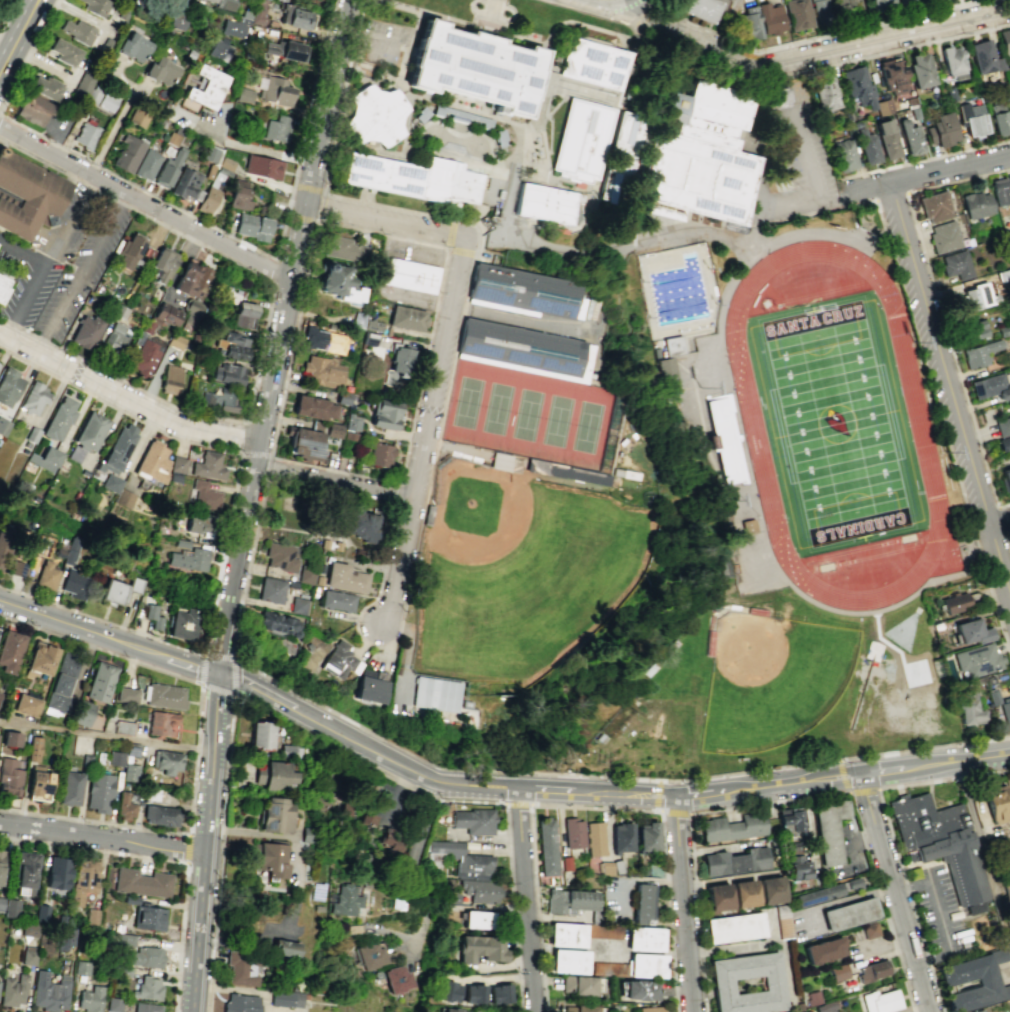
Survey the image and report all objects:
building: (170, 0)
building: (283, 0)
road: (32, 1)
road: (596, 1)
building: (905, 1)
road: (614, 2)
building: (225, 3)
building: (842, 4)
building: (880, 4)
building: (95, 6)
building: (695, 8)
building: (246, 9)
building: (257, 11)
building: (819, 11)
road: (78, 12)
building: (123, 12)
road: (7, 14)
building: (797, 14)
building: (293, 15)
building: (172, 16)
road: (446, 16)
road: (644, 16)
building: (771, 17)
road: (728, 24)
building: (750, 25)
building: (233, 27)
building: (77, 30)
road: (923, 31)
road: (19, 35)
road: (369, 39)
road: (811, 40)
road: (666, 41)
building: (1004, 41)
building: (132, 43)
parking lot: (385, 44)
road: (409, 45)
building: (285, 47)
building: (219, 48)
road: (402, 48)
road: (896, 49)
building: (62, 50)
road: (724, 52)
road: (28, 54)
building: (983, 57)
road: (41, 61)
building: (953, 62)
building: (592, 63)
building: (475, 67)
building: (159, 68)
building: (921, 70)
building: (1008, 73)
building: (894, 76)
building: (84, 82)
building: (43, 85)
building: (858, 86)
building: (275, 88)
building: (204, 89)
building: (827, 91)
building: (245, 93)
building: (92, 94)
building: (948, 94)
building: (780, 98)
building: (107, 100)
building: (31, 107)
building: (136, 113)
building: (375, 115)
building: (971, 118)
building: (999, 122)
building: (277, 127)
building: (940, 130)
road: (109, 131)
building: (86, 134)
building: (171, 137)
building: (910, 137)
road: (46, 138)
building: (886, 138)
road: (254, 148)
building: (597, 148)
building: (869, 149)
building: (127, 151)
building: (210, 153)
building: (845, 155)
building: (704, 156)
road: (807, 157)
parking lot: (808, 157)
road: (927, 161)
building: (145, 162)
building: (226, 162)
building: (263, 166)
building: (168, 167)
building: (414, 178)
building: (183, 181)
road: (915, 181)
road: (308, 189)
building: (1000, 191)
building: (27, 196)
building: (237, 196)
building: (207, 199)
road: (144, 203)
building: (977, 204)
building: (550, 205)
building: (935, 206)
road: (321, 207)
road: (773, 212)
road: (300, 217)
road: (384, 220)
road: (71, 223)
building: (252, 226)
road: (282, 230)
road: (695, 230)
road: (489, 233)
building: (944, 236)
building: (1009, 236)
road: (500, 237)
road: (447, 246)
road: (603, 247)
building: (345, 248)
building: (129, 250)
road: (24, 254)
road: (744, 260)
parking lot: (65, 262)
building: (161, 262)
building: (955, 264)
road: (274, 270)
road: (82, 273)
building: (410, 274)
building: (192, 279)
building: (339, 279)
building: (4, 288)
building: (524, 291)
building: (973, 298)
road: (27, 302)
building: (192, 306)
road: (942, 308)
building: (240, 309)
building: (166, 313)
building: (407, 316)
building: (359, 319)
building: (374, 323)
building: (85, 330)
building: (973, 330)
building: (1003, 330)
road: (264, 333)
road: (279, 335)
building: (115, 338)
building: (370, 338)
building: (326, 339)
building: (174, 341)
building: (231, 344)
building: (674, 345)
building: (524, 349)
building: (980, 353)
building: (144, 358)
building: (401, 358)
building: (1008, 359)
road: (438, 368)
building: (324, 370)
building: (670, 371)
building: (227, 372)
road: (927, 376)
building: (170, 379)
parking lot: (936, 384)
building: (9, 387)
building: (990, 387)
road: (950, 389)
building: (344, 397)
building: (34, 398)
road: (125, 399)
building: (228, 399)
building: (313, 406)
building: (386, 413)
park: (536, 415)
building: (59, 419)
building: (355, 422)
park: (835, 424)
building: (3, 425)
building: (1003, 426)
building: (335, 430)
building: (32, 434)
building: (351, 435)
building: (87, 436)
road: (243, 437)
building: (726, 439)
building: (305, 442)
building: (1003, 443)
building: (118, 448)
road: (256, 454)
road: (271, 454)
building: (381, 454)
track: (924, 454)
building: (45, 459)
building: (500, 461)
building: (152, 462)
building: (177, 464)
building: (208, 466)
road: (269, 467)
building: (1005, 478)
building: (112, 483)
road: (333, 483)
road: (314, 489)
building: (205, 496)
building: (124, 498)
road: (1003, 521)
building: (200, 523)
building: (361, 524)
road: (1000, 525)
road: (275, 526)
building: (748, 526)
road: (226, 527)
road: (1008, 536)
building: (333, 541)
building: (3, 545)
building: (70, 551)
building: (282, 556)
building: (189, 559)
road: (401, 568)
building: (16, 569)
building: (320, 570)
building: (307, 573)
park: (516, 574)
building: (46, 575)
building: (346, 577)
building: (74, 584)
building: (118, 590)
building: (272, 591)
building: (337, 601)
building: (954, 602)
building: (299, 606)
building: (152, 616)
building: (278, 623)
building: (182, 624)
road: (73, 625)
building: (971, 631)
building: (9, 651)
road: (217, 654)
building: (40, 658)
building: (338, 660)
building: (976, 661)
road: (181, 662)
road: (201, 667)
traffic signals: (218, 673)
road: (232, 676)
building: (101, 683)
park: (765, 683)
building: (62, 685)
road: (217, 688)
building: (370, 690)
building: (126, 694)
building: (435, 694)
building: (163, 695)
road: (277, 698)
building: (25, 706)
building: (969, 708)
road: (216, 711)
building: (1005, 711)
building: (83, 714)
building: (161, 724)
building: (122, 727)
road: (106, 735)
building: (259, 736)
road: (318, 736)
building: (9, 739)
building: (32, 748)
road: (194, 748)
building: (132, 749)
building: (287, 751)
building: (115, 758)
road: (966, 759)
building: (85, 760)
building: (168, 762)
road: (891, 768)
road: (829, 771)
building: (128, 772)
building: (271, 775)
road: (843, 775)
building: (9, 777)
building: (38, 781)
road: (456, 781)
road: (831, 783)
road: (760, 785)
building: (69, 788)
road: (863, 789)
building: (100, 791)
road: (698, 793)
road: (398, 794)
road: (632, 794)
parking lot: (385, 796)
road: (517, 802)
building: (126, 804)
building: (997, 804)
road: (591, 806)
road: (719, 808)
road: (674, 810)
building: (274, 814)
building: (160, 816)
building: (370, 819)
building: (790, 819)
building: (474, 821)
building: (733, 827)
building: (828, 830)
building: (574, 833)
road: (891, 835)
road: (101, 836)
building: (392, 837)
building: (622, 837)
building: (647, 837)
building: (595, 838)
road: (986, 844)
road: (187, 847)
building: (547, 847)
building: (944, 847)
road: (168, 859)
building: (270, 859)
building: (736, 861)
building: (1, 864)
road: (417, 864)
building: (606, 867)
building: (798, 867)
building: (25, 873)
building: (57, 873)
building: (83, 880)
road: (201, 880)
building: (141, 882)
road: (910, 882)
building: (770, 889)
building: (482, 890)
road: (878, 891)
road: (893, 892)
building: (744, 893)
building: (817, 894)
building: (717, 897)
road: (528, 899)
building: (345, 900)
road: (839, 900)
building: (570, 901)
building: (643, 902)
building: (1, 903)
road: (682, 903)
road: (937, 906)
building: (9, 908)
parking lot: (940, 909)
building: (40, 912)
building: (849, 914)
building: (149, 917)
building: (91, 918)
building: (481, 919)
building: (783, 922)
parking lot: (799, 925)
building: (733, 927)
building: (29, 929)
building: (870, 929)
road: (392, 931)
building: (604, 931)
building: (567, 934)
building: (64, 938)
building: (644, 938)
building: (124, 940)
building: (285, 948)
building: (481, 948)
building: (823, 950)
road: (896, 954)
building: (372, 955)
building: (144, 956)
building: (28, 957)
building: (569, 961)
building: (645, 965)
building: (81, 967)
building: (608, 968)
building: (872, 970)
building: (838, 972)
building: (398, 978)
building: (952, 980)
building: (720, 984)
building: (578, 985)
building: (146, 988)
building: (13, 990)
building: (639, 990)
building: (449, 991)
building: (49, 992)
building: (499, 993)
building: (475, 994)
building: (812, 997)
building: (286, 998)
building: (89, 1000)
building: (880, 1001)
building: (241, 1003)
building: (113, 1004)
building: (145, 1007)
building: (825, 1007)
building: (582, 1008)
building: (653, 1009)
building: (450, 1010)
building: (978, 1011)

